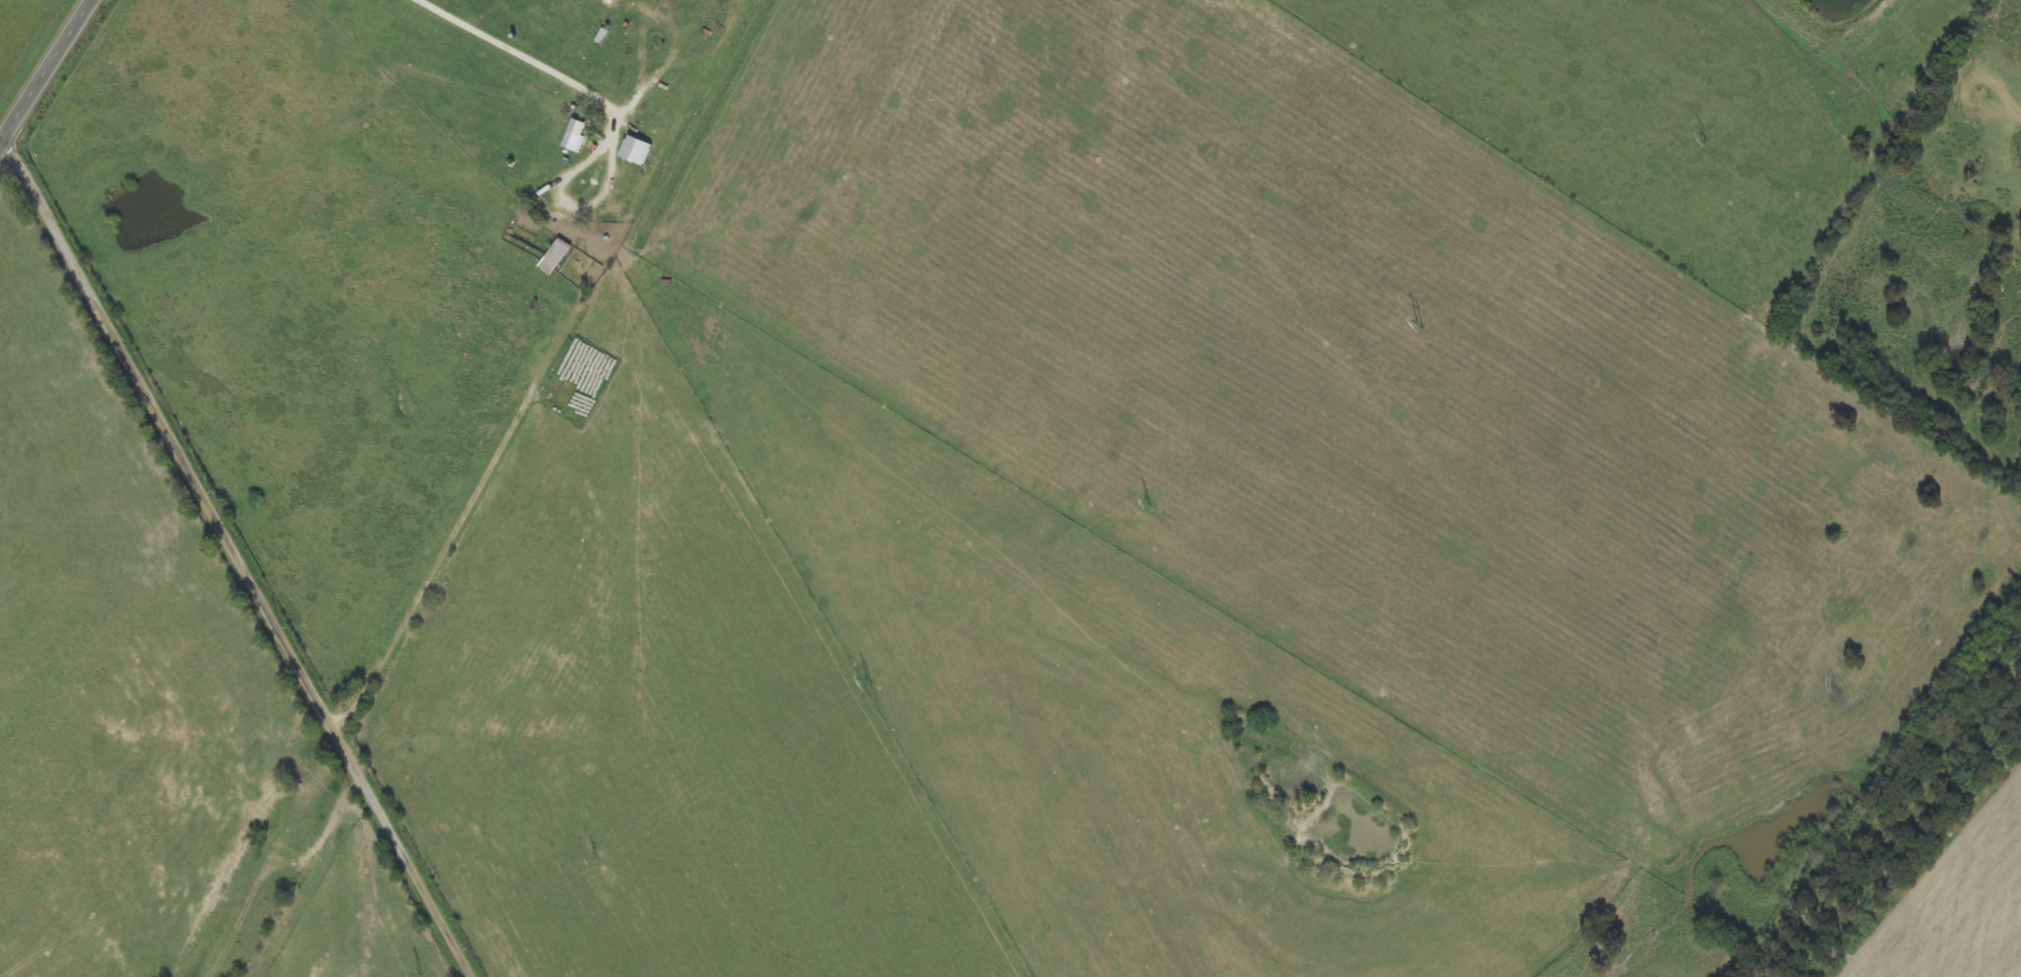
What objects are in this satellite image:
road: (48, 74)
building: (575, 137)
power tower: (1701, 139)
building: (638, 151)
power tower: (1416, 325)
railway: (490, 490)
power tower: (1146, 502)
road: (242, 557)
power tower: (866, 684)
power tower: (595, 861)
power tower: (418, 976)

